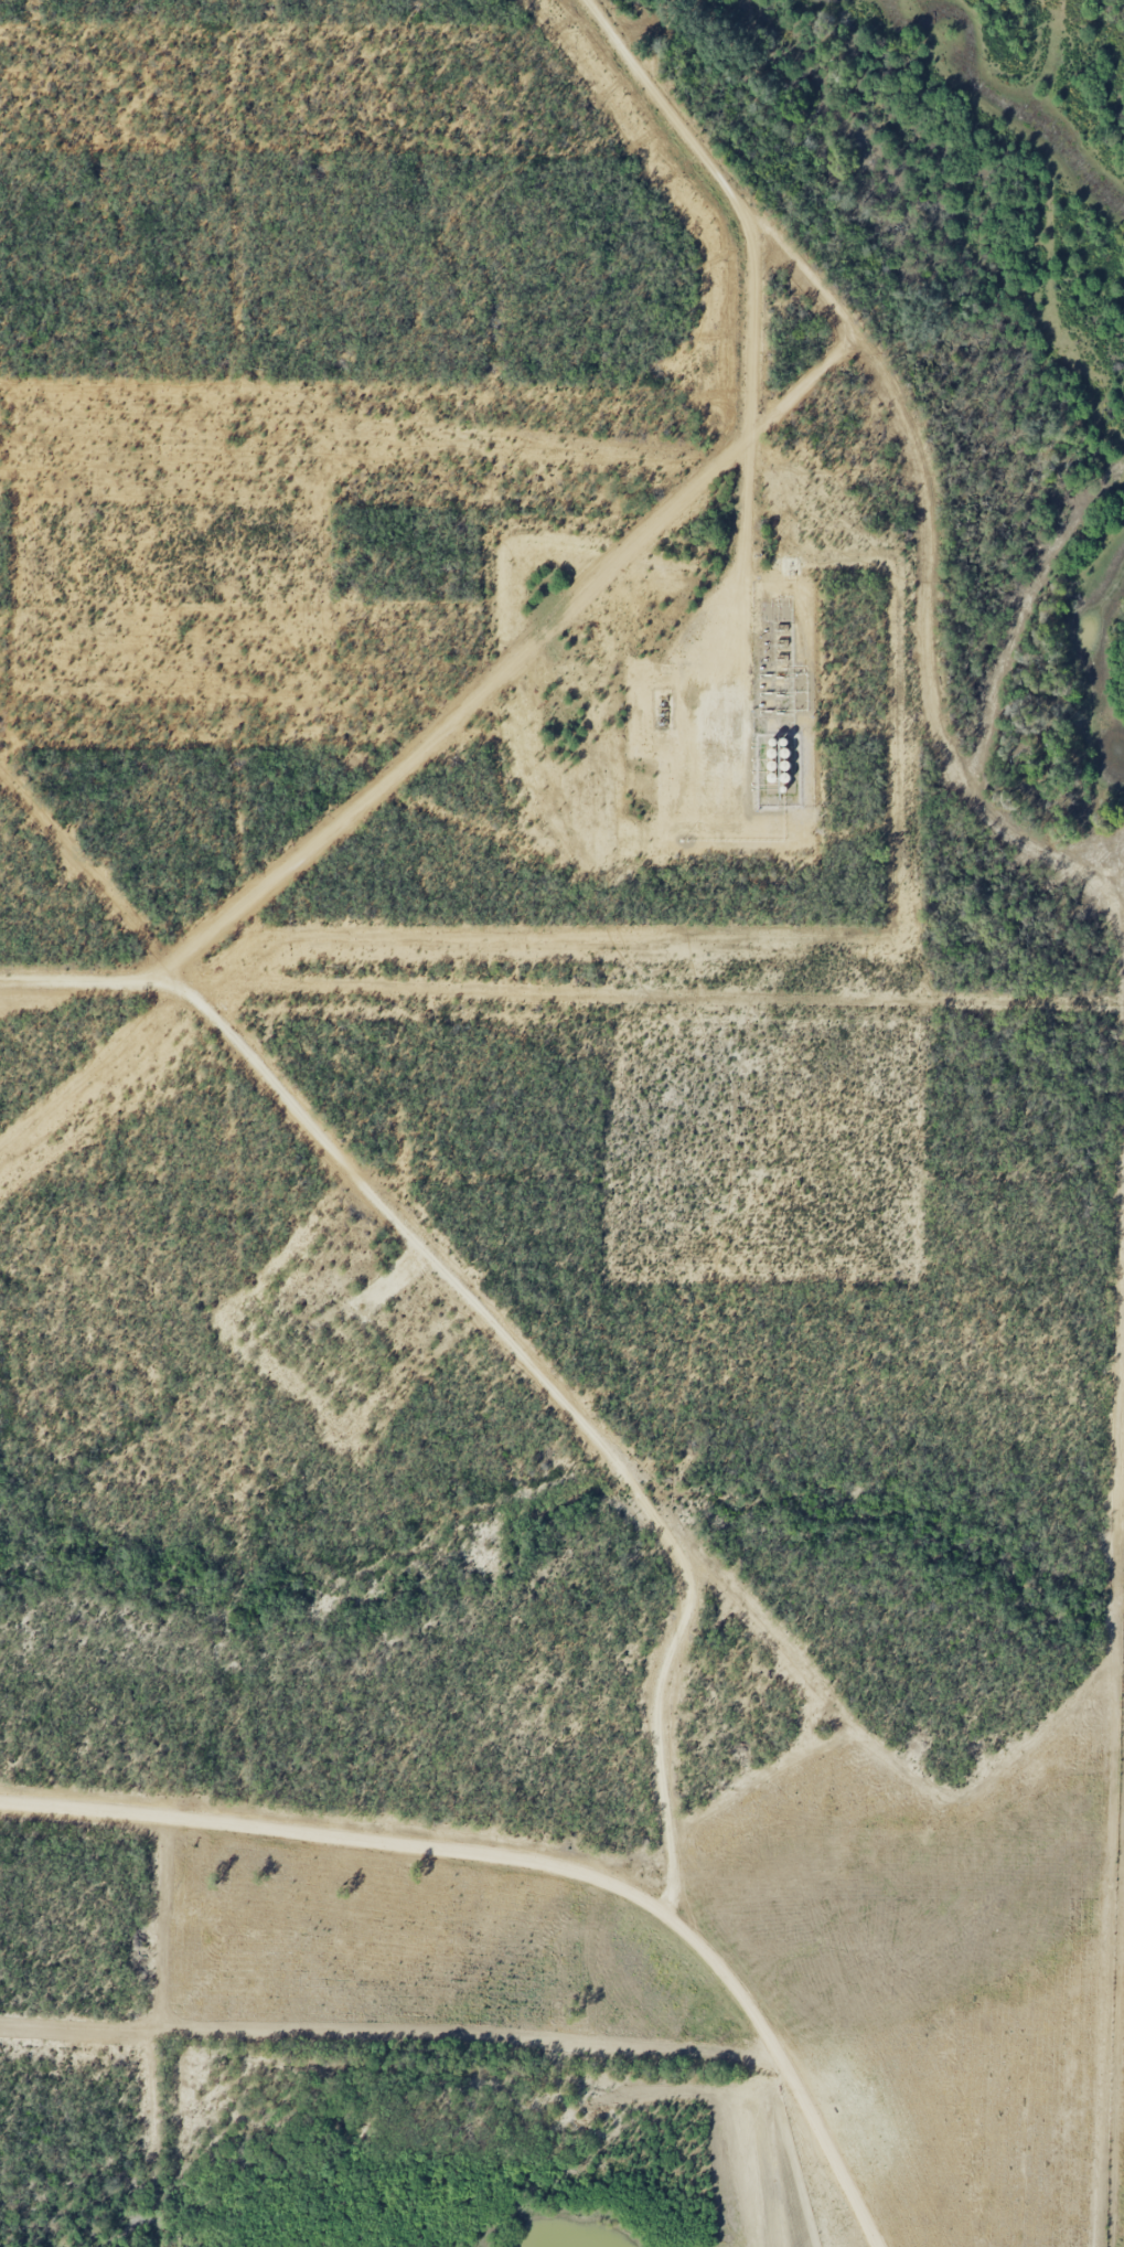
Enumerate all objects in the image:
road: (535, 1863)

